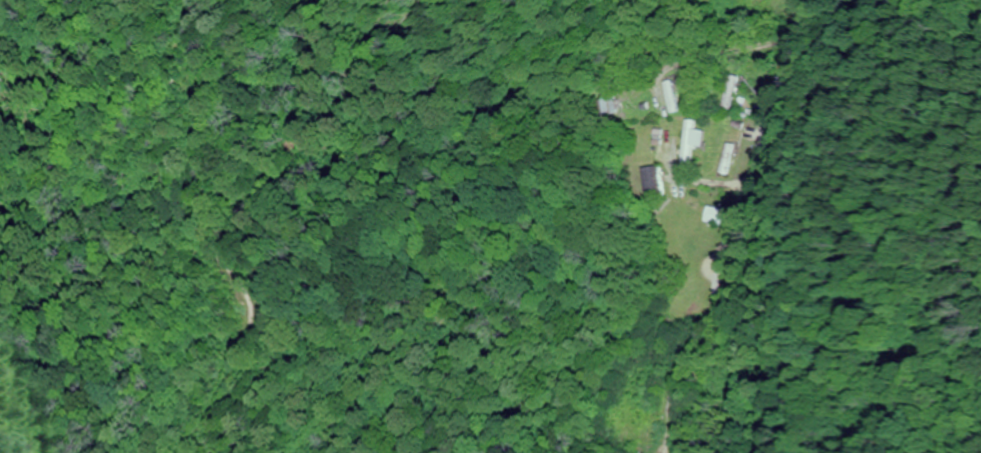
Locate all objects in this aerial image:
road: (799, 23)
road: (790, 57)
building: (669, 95)
building: (608, 101)
building: (686, 141)
building: (724, 159)
building: (649, 182)
building: (713, 216)

